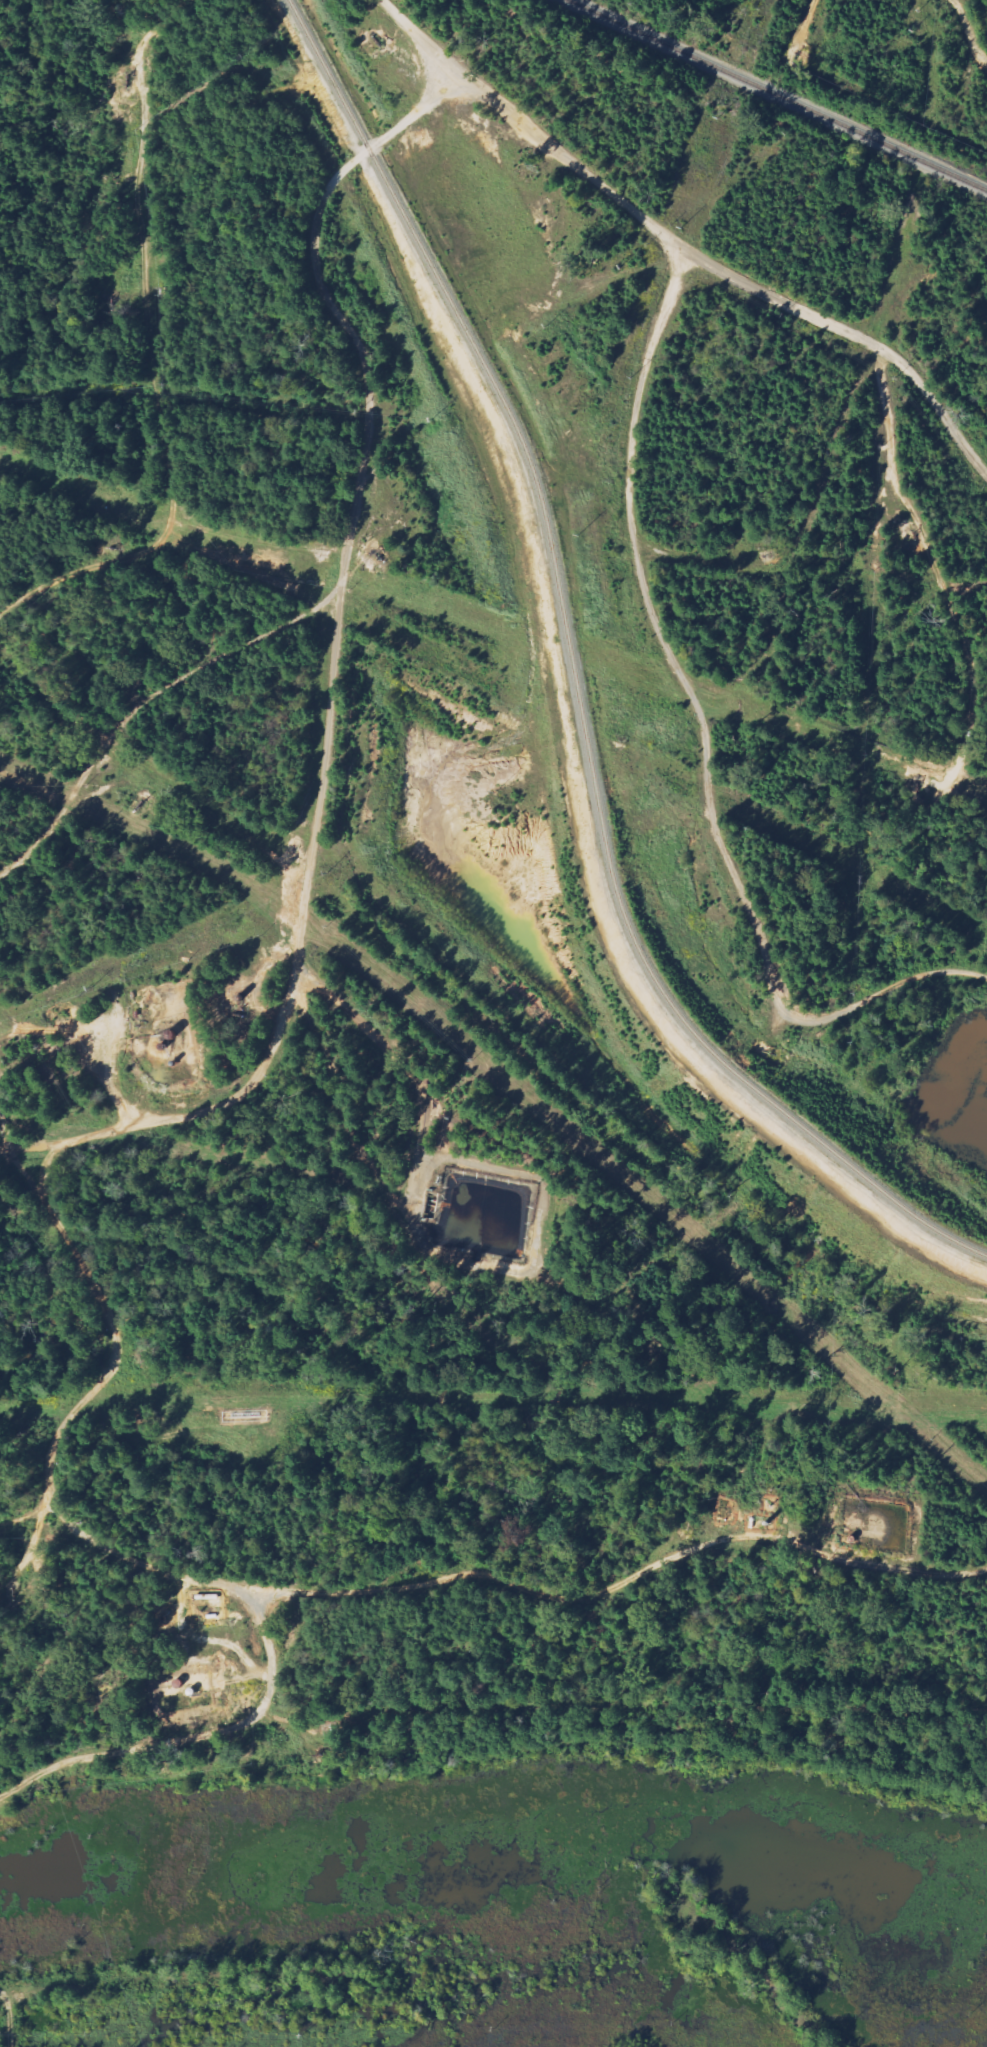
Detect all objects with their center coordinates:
railway: (777, 95)
road: (683, 246)
road: (336, 664)
railway: (579, 678)
road: (706, 730)
road: (276, 1591)

